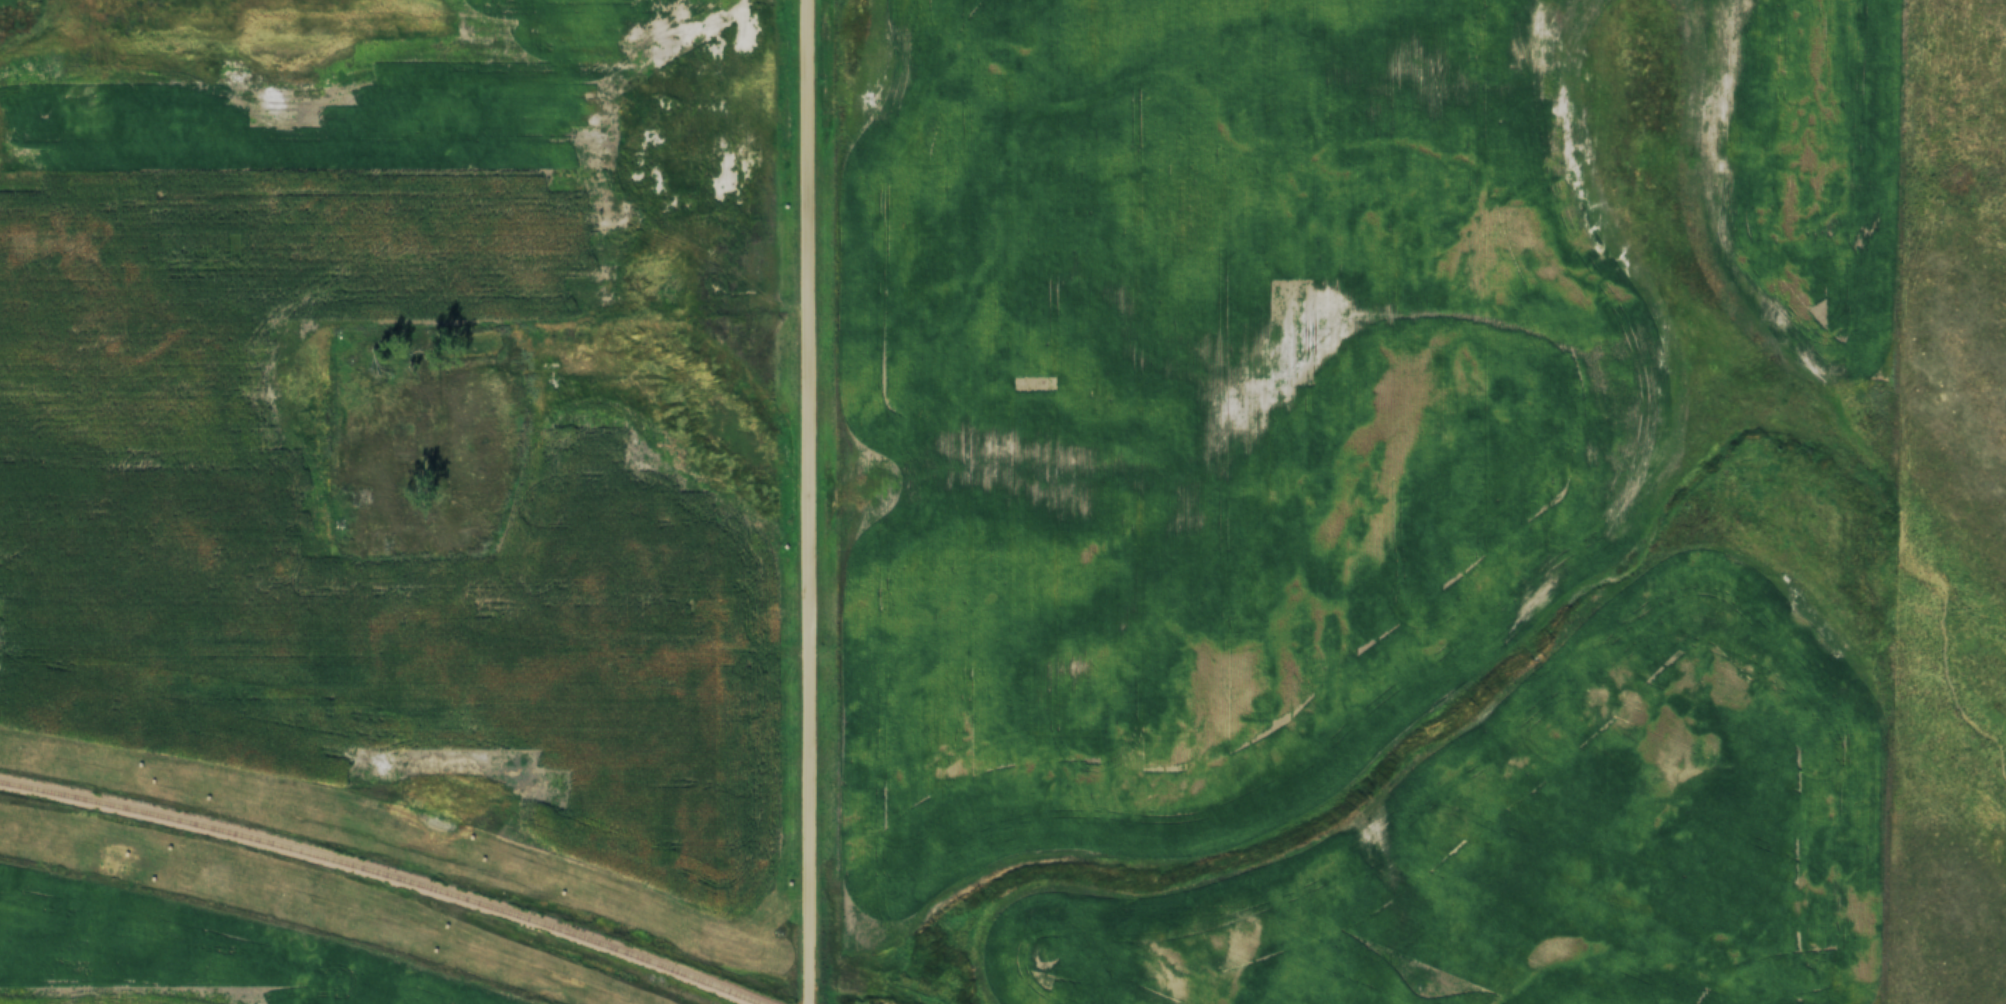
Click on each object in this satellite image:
road: (806, 501)
railway: (385, 873)

